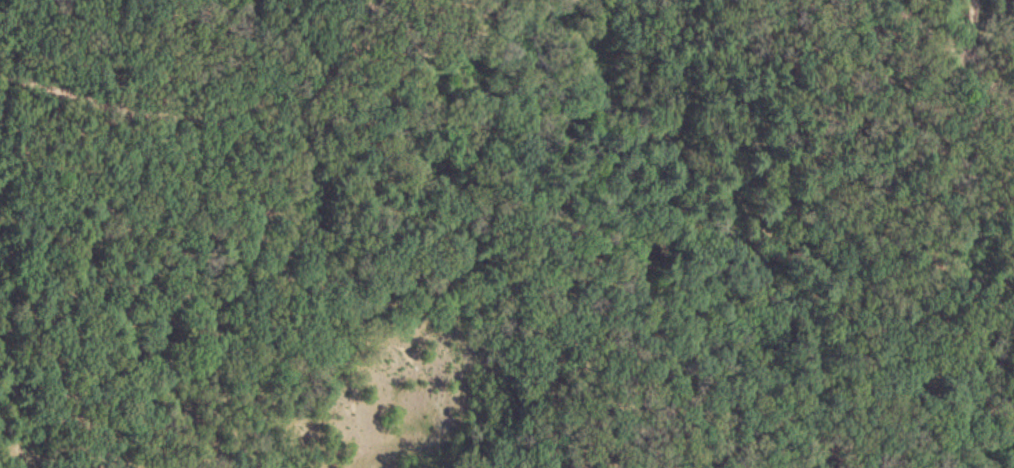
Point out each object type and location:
road: (970, 26)
road: (957, 48)
road: (189, 87)

